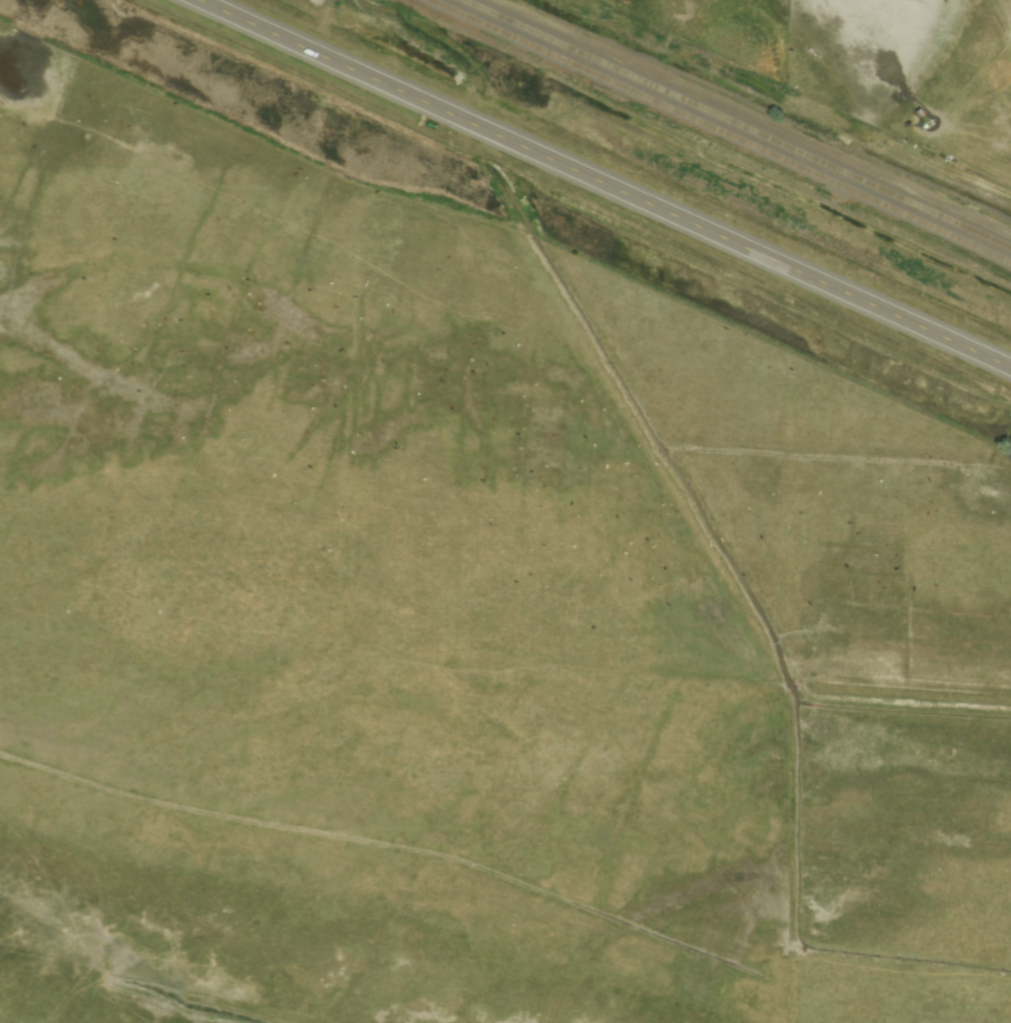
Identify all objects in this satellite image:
railway: (740, 122)
railway: (723, 130)
road: (607, 183)

